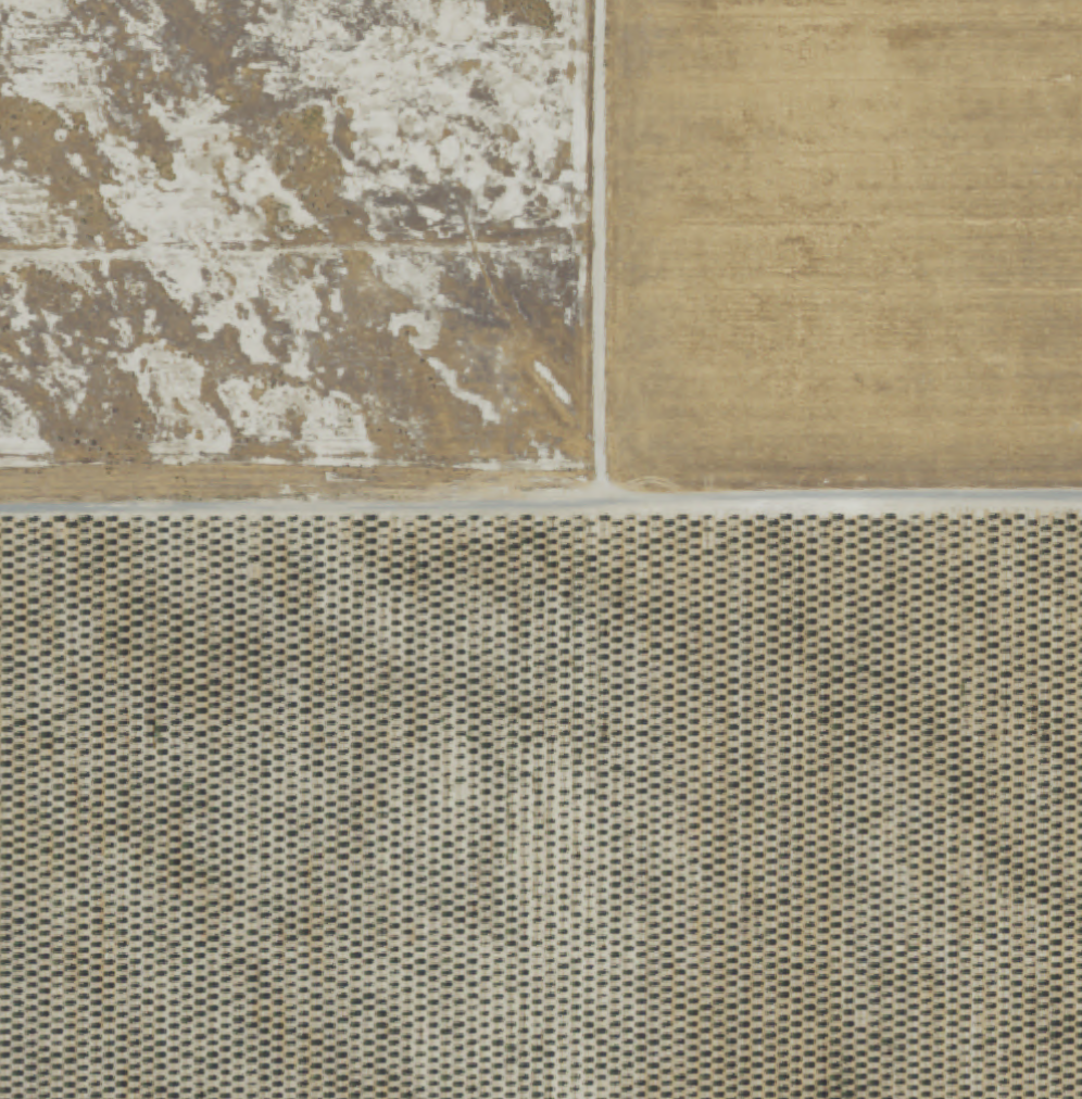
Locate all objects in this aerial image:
crop: (842, 248)
road: (597, 254)
road: (541, 508)

